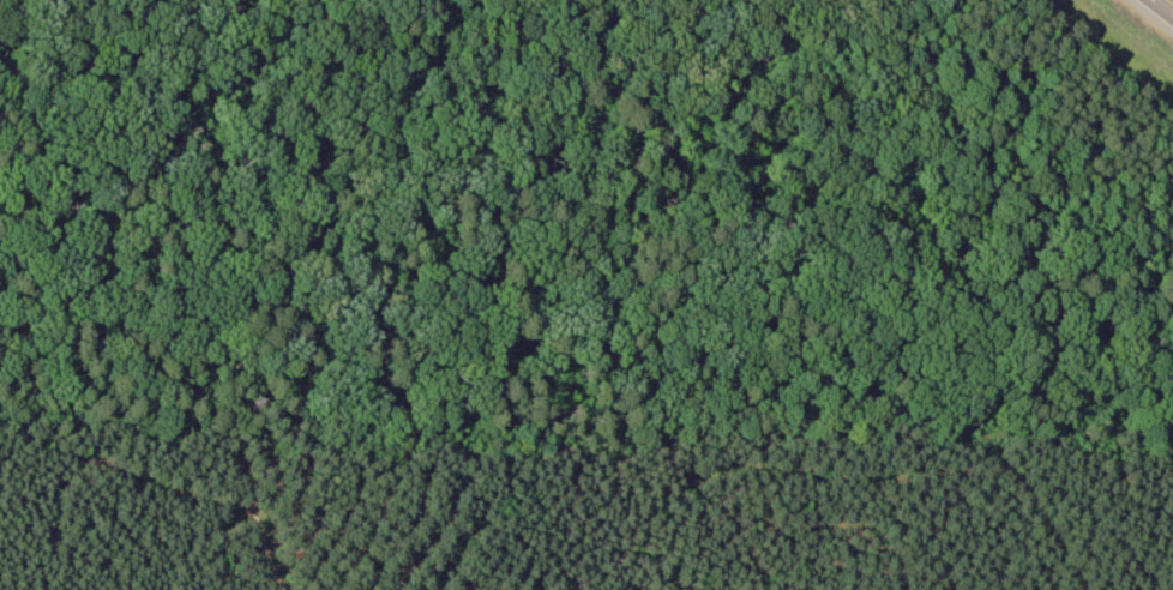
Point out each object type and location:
road: (1162, 7)

